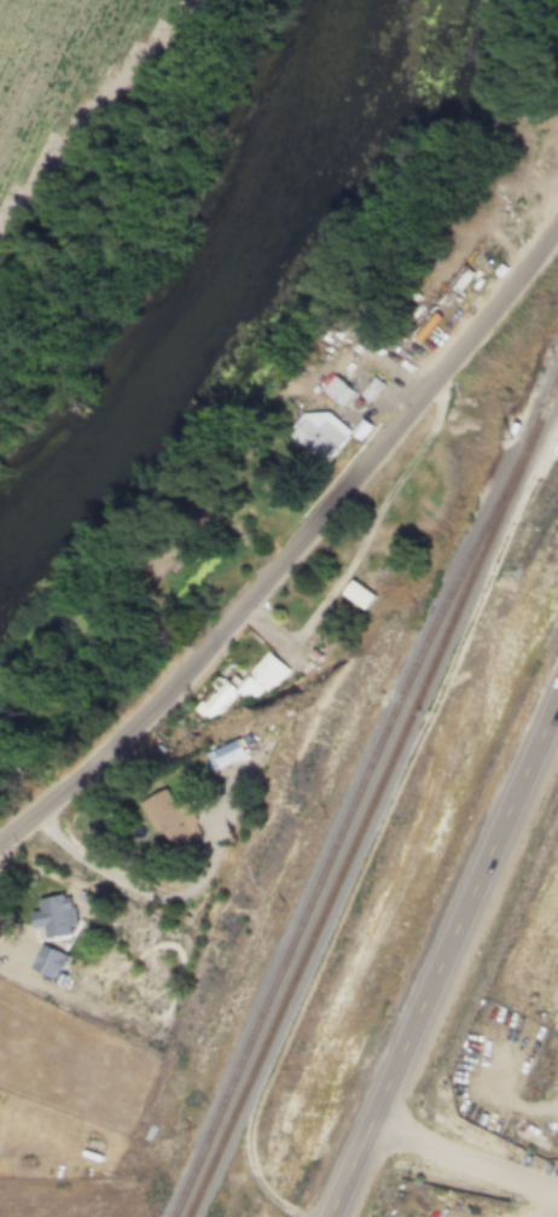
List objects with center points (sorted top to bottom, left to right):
road: (101, 118)
building: (338, 389)
building: (373, 389)
railway: (533, 429)
building: (365, 430)
building: (320, 436)
road: (296, 552)
building: (361, 596)
building: (252, 682)
building: (243, 756)
building: (186, 821)
railway: (335, 849)
railway: (350, 852)
road: (122, 878)
building: (57, 916)
road: (442, 954)
building: (53, 962)
road: (461, 1158)

